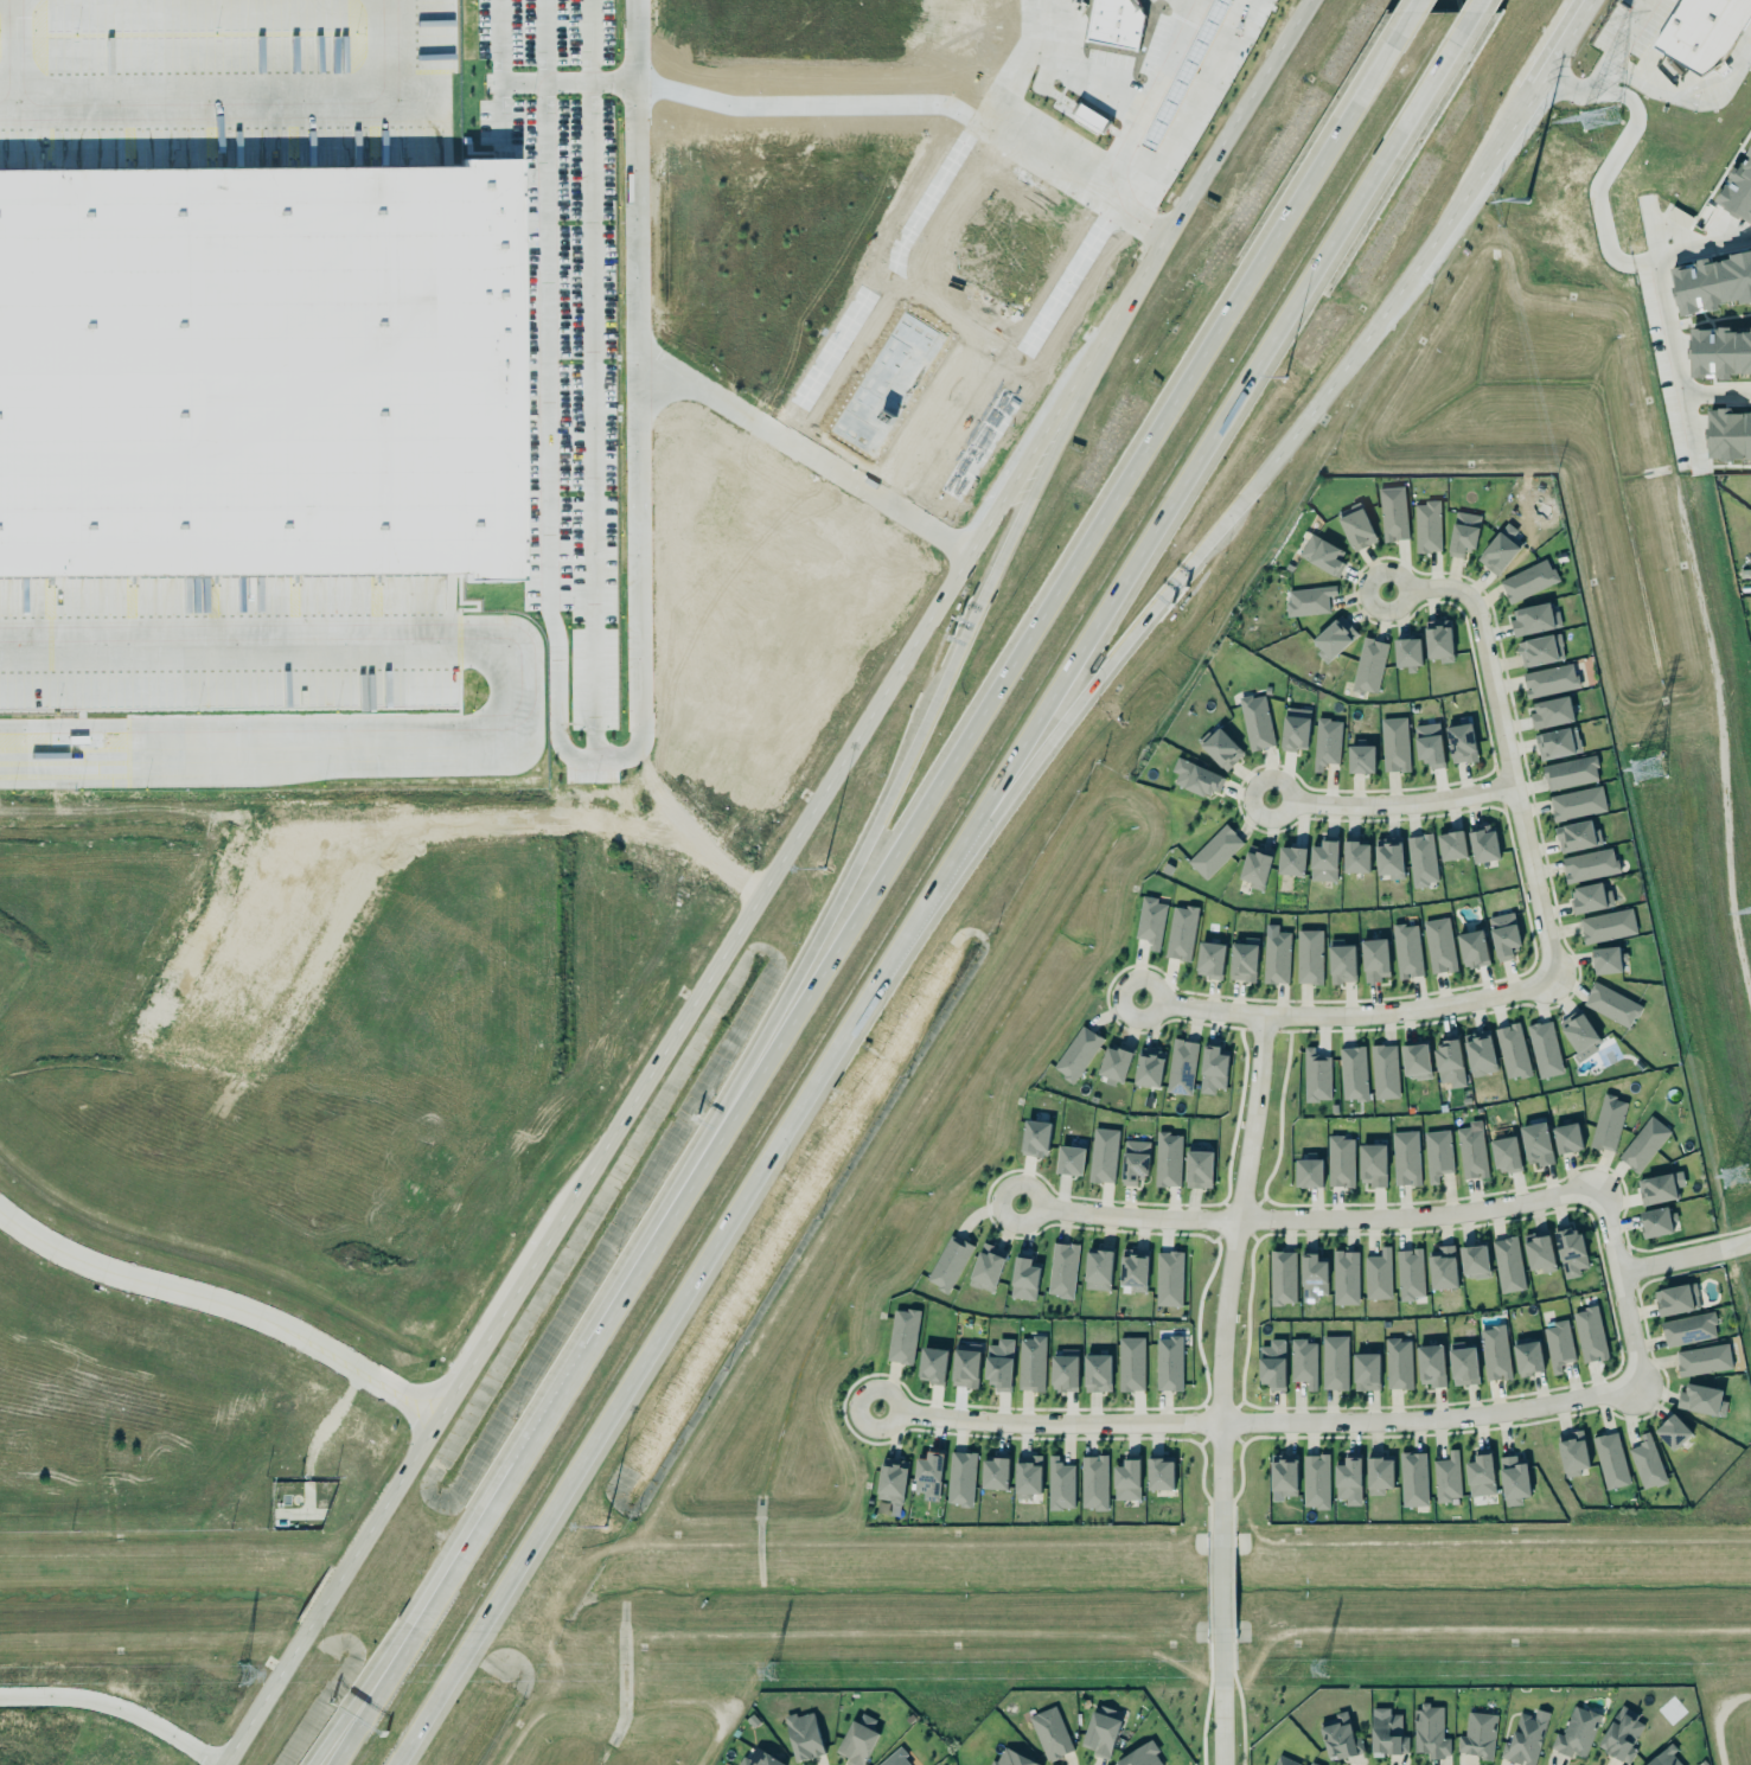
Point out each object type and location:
road: (1417, 6)
road: (1475, 6)
road: (1579, 6)
road: (1581, 6)
building: (1704, 33)
road: (1558, 45)
road: (21, 50)
road: (1597, 65)
road: (218, 97)
road: (1686, 98)
road: (1150, 100)
road: (824, 102)
road: (1008, 117)
power tower: (1597, 117)
road: (1506, 130)
road: (1218, 147)
road: (1600, 177)
building: (1738, 192)
power tower: (1517, 196)
road: (1133, 217)
road: (1440, 226)
building: (1711, 283)
road: (1664, 312)
road: (652, 364)
road: (1336, 364)
building: (258, 371)
building: (1728, 434)
road: (1208, 448)
building: (1392, 512)
building: (1426, 525)
building: (1356, 527)
building: (1462, 532)
building: (1496, 550)
building: (1322, 555)
building: (1527, 578)
building: (1308, 601)
road: (600, 605)
building: (1532, 618)
building: (1331, 637)
building: (1437, 641)
building: (1406, 651)
building: (1540, 651)
building: (1368, 664)
road: (1105, 671)
road: (999, 678)
building: (1548, 678)
road: (523, 685)
building: (1551, 712)
building: (1255, 723)
building: (1292, 728)
building: (1459, 742)
building: (1555, 742)
building: (1327, 743)
building: (1393, 743)
building: (1427, 743)
building: (1219, 747)
road: (1503, 747)
building: (1359, 757)
power tower: (1645, 767)
building: (1570, 773)
building: (1194, 775)
building: (1576, 802)
road: (1391, 805)
road: (876, 829)
building: (1577, 837)
building: (1450, 844)
building: (1482, 844)
building: (1214, 852)
building: (1353, 855)
building: (1387, 856)
building: (1419, 858)
building: (1322, 859)
building: (1291, 862)
building: (1587, 863)
building: (1255, 869)
building: (1587, 896)
building: (1149, 920)
building: (1605, 925)
building: (1180, 932)
building: (1503, 935)
building: (1438, 944)
building: (1471, 947)
building: (1405, 949)
building: (1276, 955)
building: (1306, 955)
building: (1208, 958)
building: (1605, 958)
building: (1242, 960)
building: (1374, 960)
building: (1341, 963)
building: (1611, 1005)
road: (1347, 1015)
road: (675, 1029)
building: (1576, 1031)
building: (1542, 1048)
building: (1512, 1050)
building: (1075, 1051)
building: (1478, 1053)
building: (1413, 1060)
building: (1113, 1062)
building: (1448, 1062)
building: (1148, 1066)
building: (1180, 1066)
building: (1213, 1070)
building: (1383, 1072)
building: (1351, 1073)
building: (1315, 1075)
building: (1608, 1124)
building: (1034, 1136)
building: (1566, 1137)
building: (1535, 1143)
building: (1642, 1143)
building: (1469, 1152)
building: (1101, 1153)
building: (1436, 1153)
building: (1504, 1153)
building: (1404, 1157)
building: (1069, 1158)
building: (1167, 1158)
building: (1133, 1160)
building: (1338, 1160)
building: (1370, 1164)
building: (1197, 1168)
building: (1309, 1174)
power tower: (1733, 1176)
building: (1660, 1188)
road: (1309, 1220)
building: (1657, 1222)
building: (1538, 1252)
building: (1570, 1252)
road: (1683, 1256)
building: (1472, 1260)
building: (947, 1262)
building: (1506, 1264)
building: (985, 1266)
building: (1132, 1267)
building: (1440, 1267)
building: (1061, 1268)
building: (1097, 1268)
building: (1375, 1274)
building: (1410, 1274)
building: (1343, 1277)
building: (1022, 1278)
building: (1282, 1278)
building: (1312, 1278)
building: (1169, 1279)
road: (1619, 1285)
building: (1675, 1300)
road: (223, 1302)
road: (671, 1324)
building: (1688, 1330)
building: (1589, 1332)
building: (902, 1336)
building: (1557, 1344)
building: (1493, 1352)
building: (1526, 1357)
building: (1701, 1358)
building: (1333, 1361)
building: (998, 1362)
building: (1029, 1362)
building: (1129, 1362)
building: (1168, 1362)
building: (1302, 1362)
building: (1429, 1363)
building: (931, 1364)
building: (1398, 1364)
building: (1462, 1364)
building: (1272, 1366)
building: (964, 1367)
building: (1363, 1370)
building: (1062, 1371)
building: (1095, 1371)
road: (1216, 1389)
building: (1700, 1399)
road: (1258, 1424)
building: (1670, 1431)
building: (1572, 1452)
building: (1609, 1459)
building: (1647, 1463)
building: (995, 1473)
building: (1158, 1473)
building: (1379, 1473)
building: (1282, 1475)
building: (1478, 1475)
building: (928, 1476)
building: (1445, 1476)
building: (959, 1477)
building: (1027, 1477)
road: (509, 1478)
building: (889, 1478)
building: (1411, 1478)
building: (1125, 1479)
building: (1315, 1479)
building: (1512, 1479)
building: (1092, 1482)
building: (1348, 1482)
building: (1060, 1484)
power tower: (1321, 1661)
power tower: (768, 1674)
power tower: (217, 1675)
road: (369, 1687)
road: (379, 1687)
road: (116, 1706)
building: (1429, 1731)
building: (1574, 1731)
building: (1049, 1733)
building: (1099, 1733)
building: (1386, 1733)
building: (1619, 1733)
building: (803, 1735)
building: (1477, 1735)
building: (1338, 1738)
building: (1523, 1738)
building: (855, 1742)
building: (1139, 1756)
building: (756, 1758)
building: (895, 1758)
building: (1009, 1758)
building: (1666, 1758)
building: (1284, 1760)
building: (1311, 1763)

